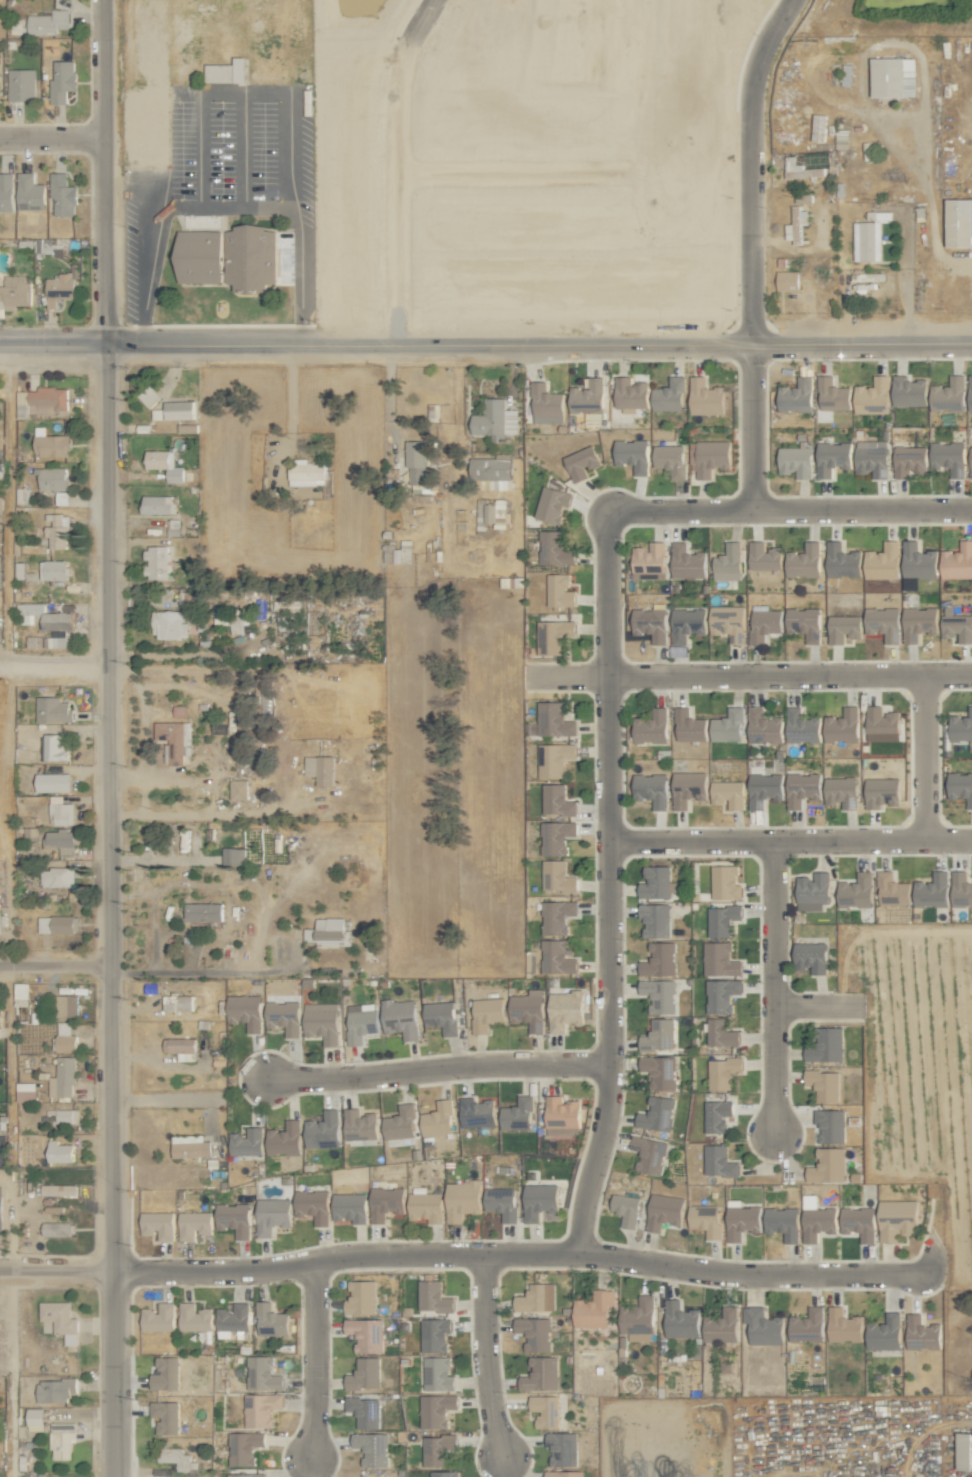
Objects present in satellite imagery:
building: (47, 22)
building: (226, 72)
building: (893, 77)
building: (61, 81)
building: (20, 85)
road: (206, 90)
road: (51, 136)
building: (841, 139)
road: (379, 167)
building: (800, 169)
building: (5, 192)
building: (29, 193)
building: (61, 196)
building: (802, 198)
building: (959, 224)
building: (795, 225)
building: (869, 236)
road: (754, 249)
building: (227, 258)
building: (787, 281)
building: (60, 286)
building: (14, 292)
road: (485, 344)
building: (908, 390)
building: (970, 391)
building: (629, 394)
building: (832, 394)
building: (948, 394)
building: (149, 395)
building: (668, 395)
building: (796, 395)
building: (872, 395)
building: (587, 396)
building: (704, 396)
building: (40, 400)
building: (546, 404)
building: (178, 409)
building: (494, 419)
building: (50, 444)
building: (632, 454)
building: (711, 457)
building: (832, 457)
building: (871, 457)
building: (948, 457)
building: (669, 459)
building: (970, 459)
building: (795, 460)
building: (908, 460)
building: (415, 462)
building: (580, 462)
building: (164, 464)
building: (491, 472)
building: (305, 473)
building: (53, 482)
road: (7, 504)
building: (157, 504)
building: (551, 504)
road: (790, 508)
building: (503, 515)
building: (56, 530)
building: (554, 548)
building: (397, 551)
building: (763, 555)
building: (841, 560)
building: (156, 561)
building: (648, 561)
building: (687, 561)
building: (803, 561)
building: (882, 561)
building: (918, 561)
building: (957, 561)
building: (727, 562)
building: (53, 569)
building: (559, 590)
building: (288, 605)
building: (44, 617)
building: (234, 621)
building: (727, 622)
building: (918, 622)
building: (650, 623)
building: (803, 623)
building: (883, 623)
building: (168, 624)
building: (686, 624)
building: (764, 624)
building: (842, 627)
building: (957, 628)
building: (554, 636)
road: (54, 668)
road: (749, 675)
building: (52, 709)
building: (554, 719)
building: (882, 724)
building: (688, 726)
building: (727, 726)
building: (763, 726)
building: (801, 726)
building: (842, 726)
building: (650, 727)
building: (961, 727)
road: (108, 738)
building: (174, 739)
building: (54, 748)
road: (927, 757)
building: (554, 759)
road: (352, 762)
building: (319, 769)
building: (52, 782)
building: (960, 786)
building: (687, 788)
building: (764, 788)
building: (802, 788)
building: (237, 789)
building: (651, 789)
building: (841, 791)
building: (881, 792)
building: (728, 793)
building: (556, 800)
building: (60, 811)
building: (555, 836)
road: (791, 839)
building: (233, 855)
building: (56, 876)
building: (557, 876)
building: (725, 882)
building: (656, 883)
road: (611, 888)
building: (961, 889)
building: (892, 890)
building: (931, 890)
building: (813, 891)
building: (855, 891)
building: (202, 911)
building: (556, 916)
building: (654, 919)
building: (721, 920)
building: (57, 924)
building: (329, 932)
building: (810, 956)
building: (557, 957)
building: (659, 960)
building: (719, 960)
road: (54, 964)
road: (200, 971)
road: (774, 985)
building: (20, 989)
building: (659, 995)
building: (721, 995)
building: (176, 1002)
building: (65, 1005)
road: (819, 1006)
building: (564, 1009)
building: (527, 1010)
building: (245, 1011)
building: (486, 1013)
building: (440, 1016)
building: (283, 1017)
building: (399, 1018)
building: (321, 1022)
building: (359, 1023)
building: (0, 1030)
building: (720, 1033)
building: (659, 1035)
building: (64, 1038)
building: (825, 1045)
building: (180, 1047)
road: (436, 1069)
building: (660, 1071)
building: (722, 1072)
building: (62, 1078)
building: (823, 1084)
building: (25, 1091)
building: (476, 1112)
building: (517, 1114)
building: (656, 1114)
building: (716, 1115)
building: (64, 1116)
building: (561, 1116)
building: (437, 1119)
building: (399, 1123)
building: (358, 1125)
building: (830, 1126)
building: (322, 1130)
building: (283, 1139)
building: (245, 1142)
building: (190, 1146)
building: (59, 1152)
building: (648, 1154)
building: (718, 1161)
building: (827, 1165)
building: (58, 1189)
building: (461, 1199)
building: (538, 1201)
building: (385, 1203)
building: (501, 1203)
building: (312, 1205)
building: (349, 1207)
building: (425, 1207)
building: (626, 1209)
building: (663, 1211)
building: (271, 1215)
building: (233, 1219)
building: (705, 1219)
building: (816, 1219)
building: (897, 1219)
building: (741, 1220)
road: (7, 1221)
building: (858, 1222)
building: (782, 1223)
building: (157, 1225)
building: (193, 1225)
building: (56, 1229)
road: (455, 1253)
building: (433, 1297)
building: (360, 1298)
building: (536, 1298)
building: (593, 1310)
building: (158, 1317)
building: (194, 1318)
building: (231, 1319)
building: (637, 1319)
building: (270, 1320)
building: (680, 1320)
building: (58, 1321)
building: (720, 1326)
building: (762, 1326)
building: (807, 1326)
building: (843, 1326)
building: (534, 1333)
building: (884, 1333)
building: (921, 1333)
building: (365, 1334)
building: (434, 1334)
road: (483, 1357)
road: (310, 1361)
building: (165, 1374)
building: (262, 1374)
building: (364, 1374)
building: (437, 1374)
building: (539, 1374)
building: (54, 1390)
building: (260, 1409)
building: (435, 1410)
building: (364, 1411)
building: (544, 1411)
building: (164, 1417)
building: (35, 1419)
building: (61, 1440)
building: (244, 1447)
building: (371, 1448)
building: (436, 1449)
building: (562, 1449)
building: (964, 1451)
building: (179, 1459)
building: (443, 1474)
building: (563, 1474)
building: (245, 1475)

